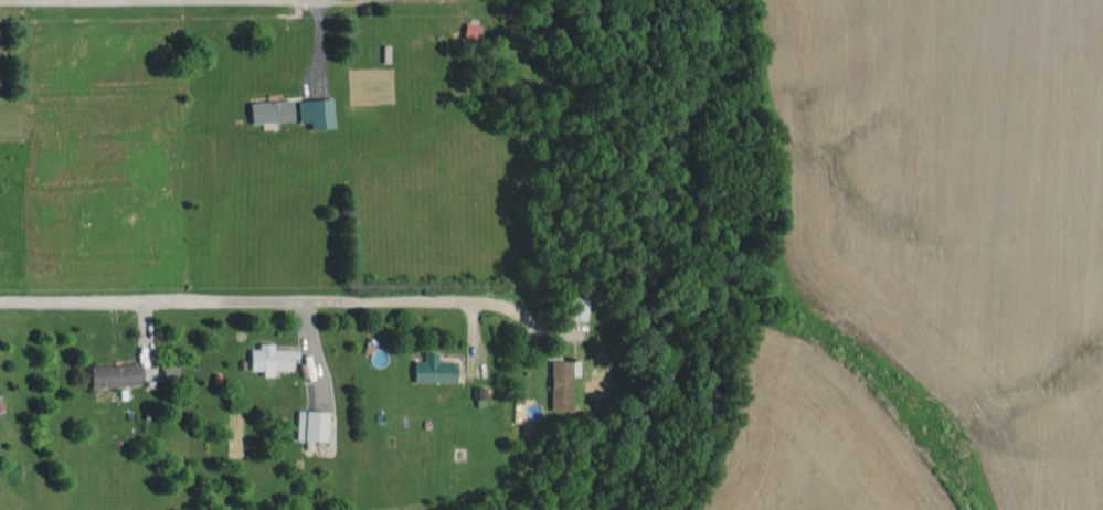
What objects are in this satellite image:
building: (267, 109)
building: (312, 111)
road: (272, 297)
building: (575, 307)
building: (268, 358)
building: (431, 368)
building: (112, 374)
building: (558, 384)
building: (308, 424)

